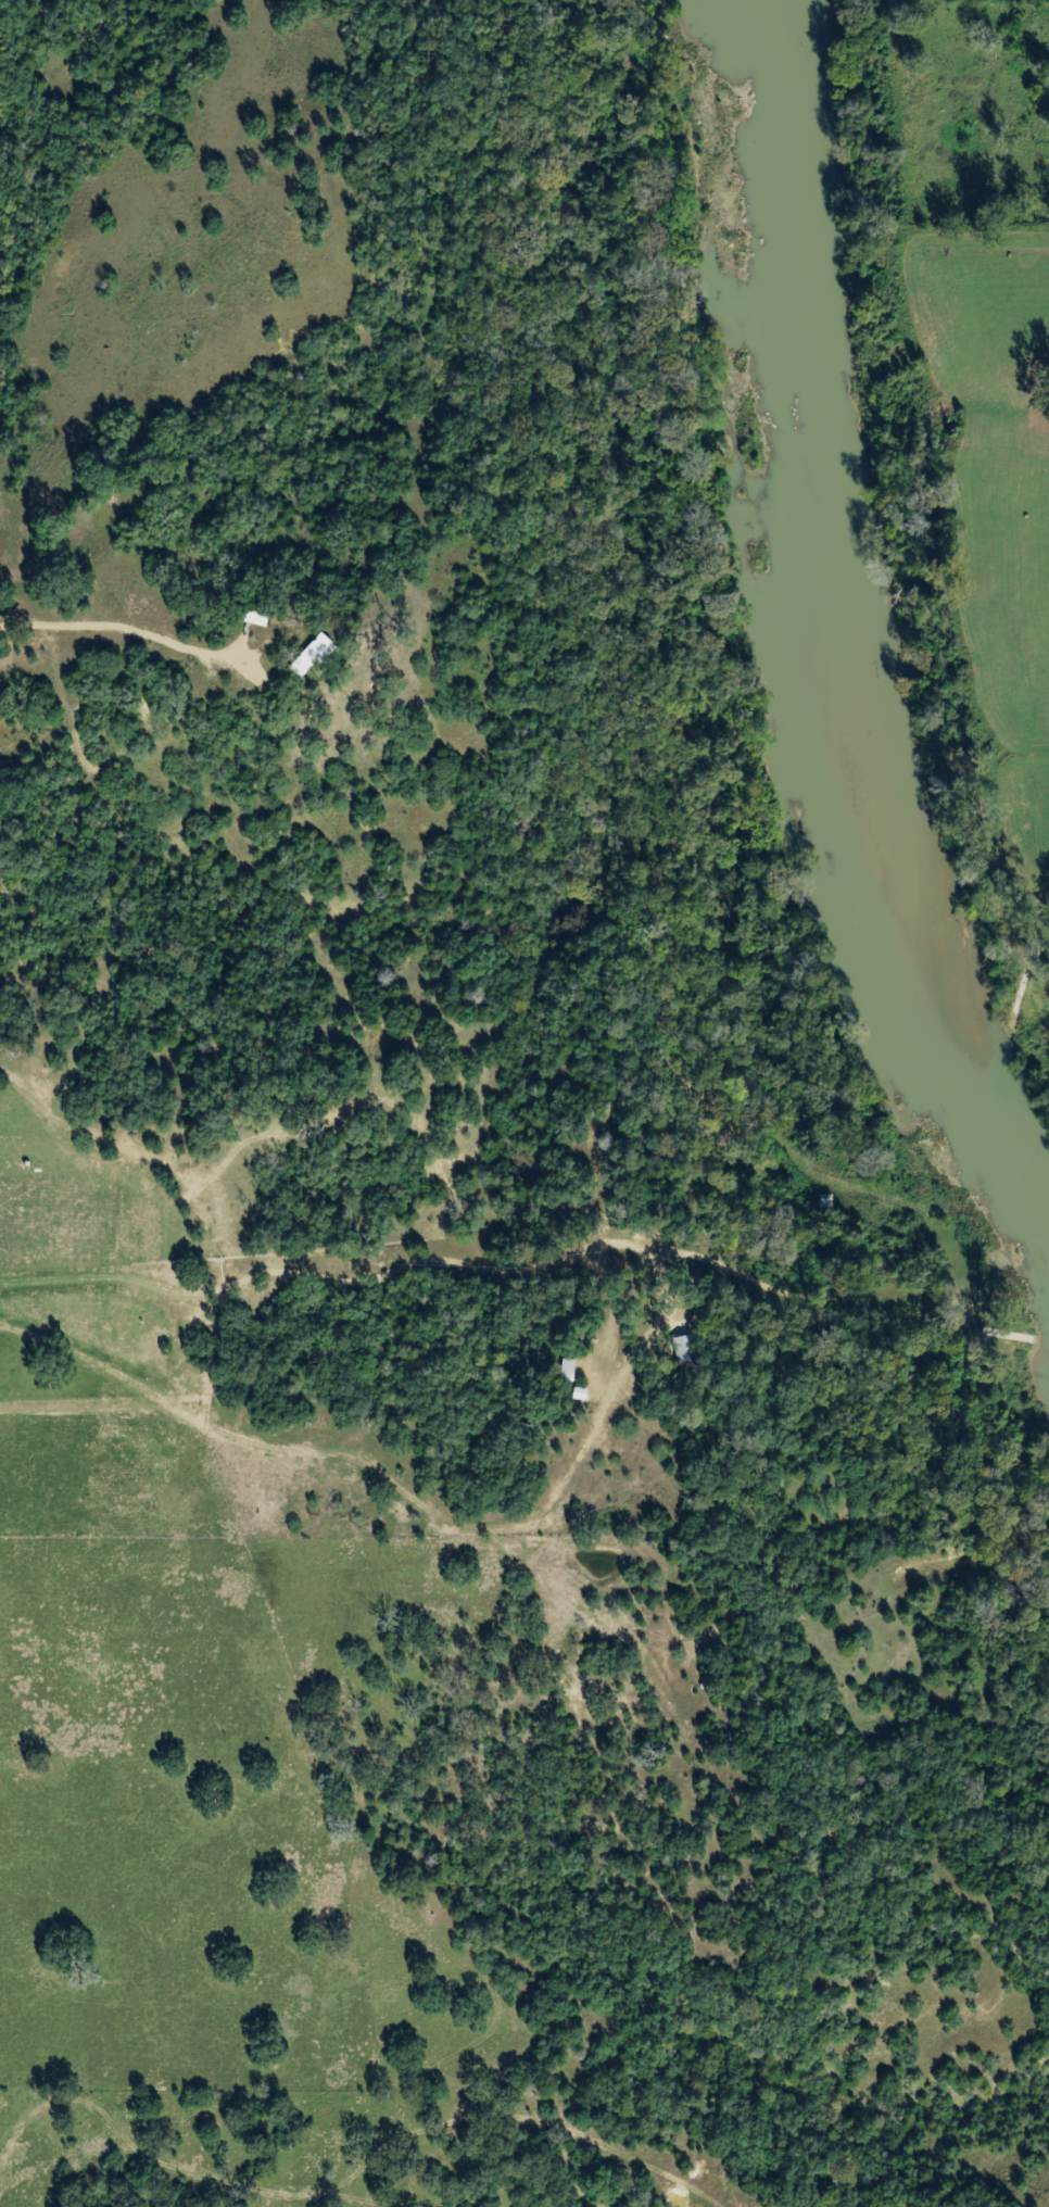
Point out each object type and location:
river: (833, 638)
road: (147, 640)
building: (305, 647)
building: (674, 1350)
road: (377, 2198)

